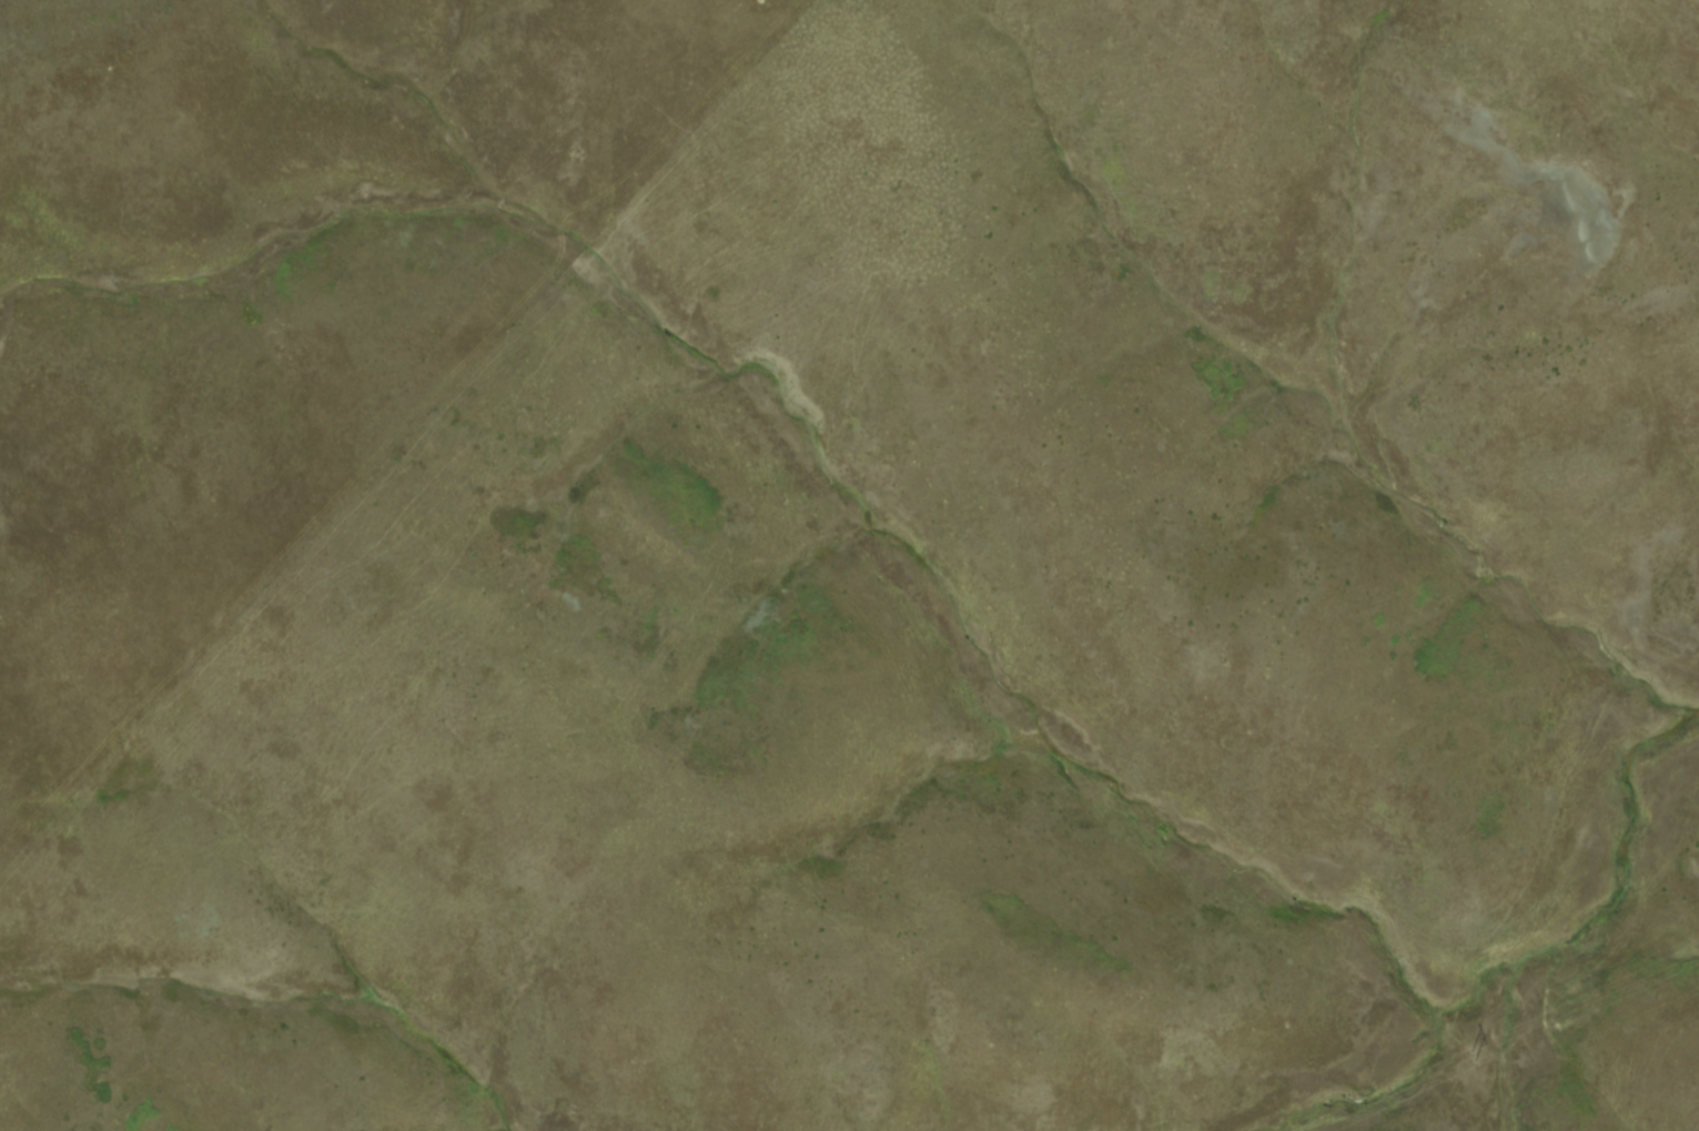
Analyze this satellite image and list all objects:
power tower: (1469, 1056)

